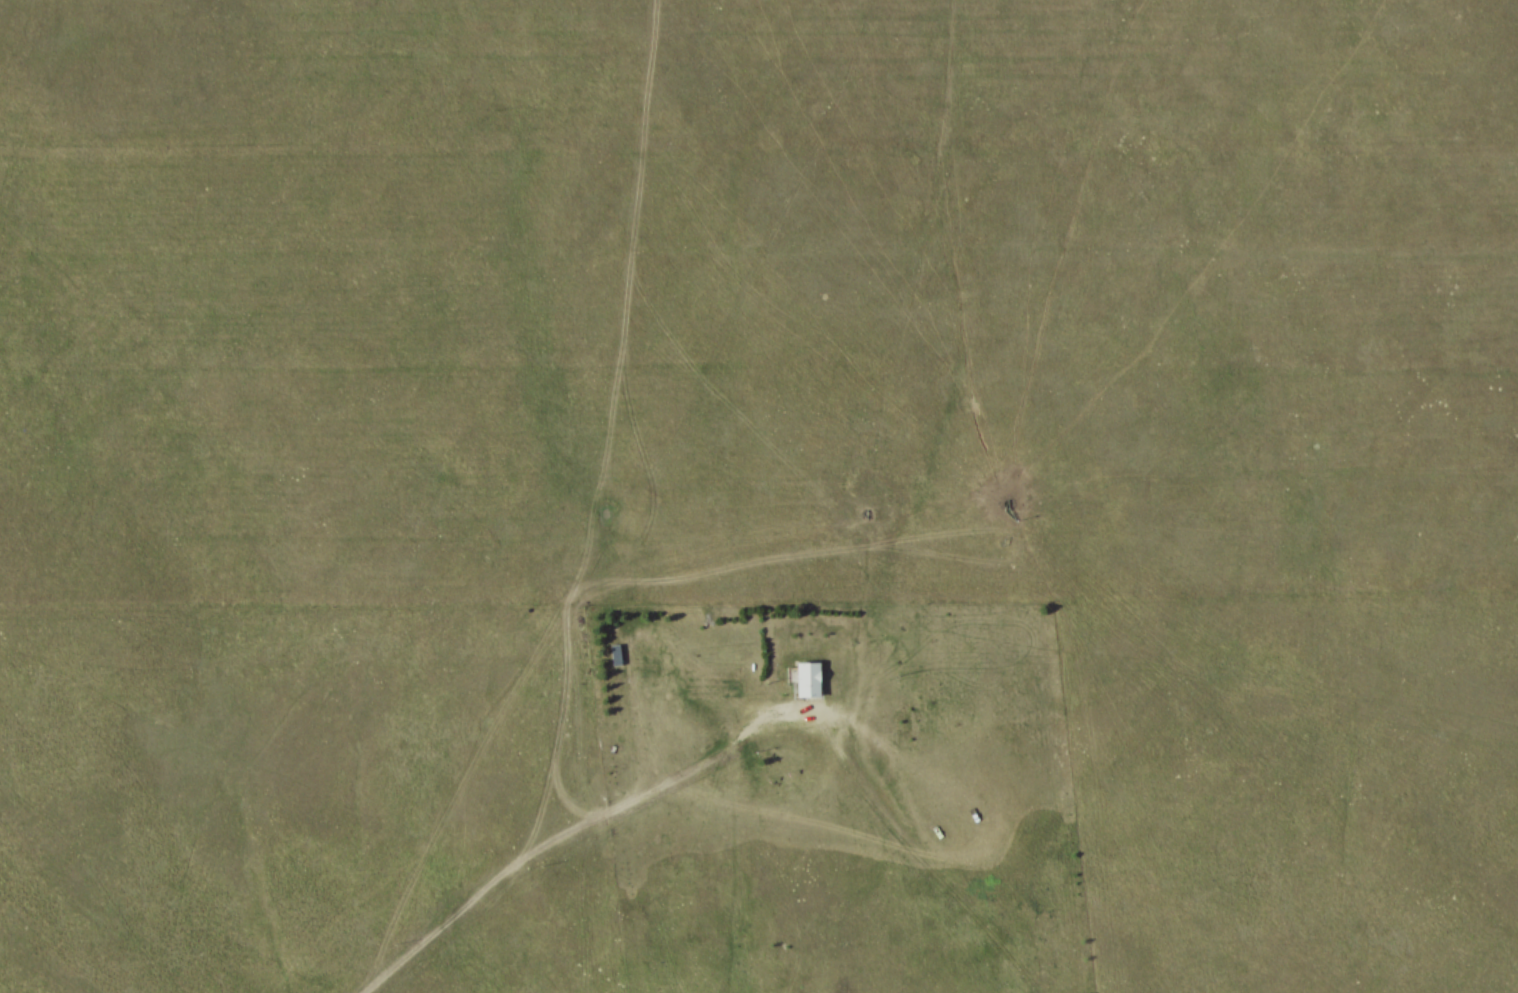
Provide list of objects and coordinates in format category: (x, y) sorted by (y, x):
building: (809, 681)

